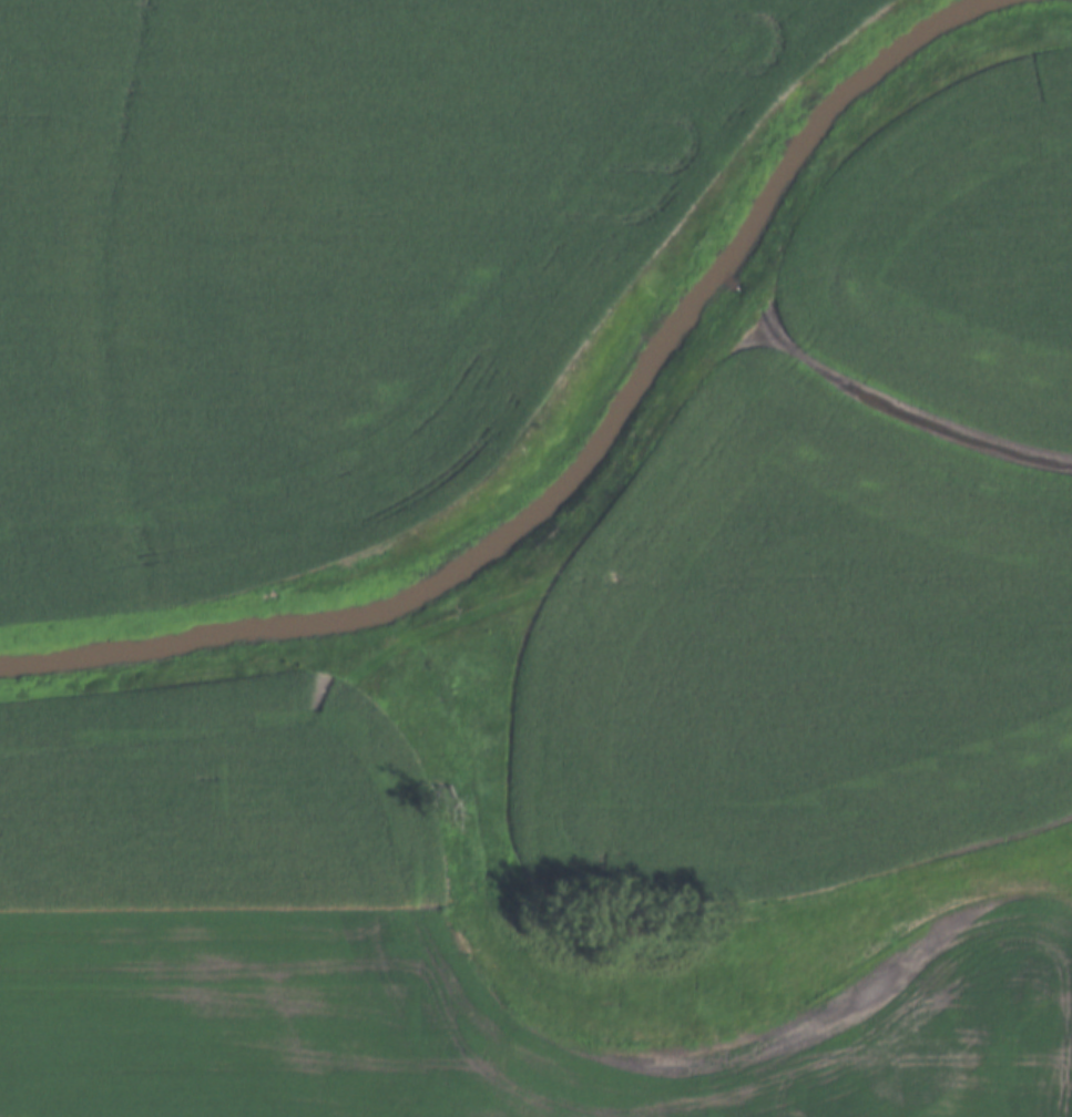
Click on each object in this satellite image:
crop: (952, 249)
crop: (323, 256)
crop: (794, 656)
crop: (391, 946)

